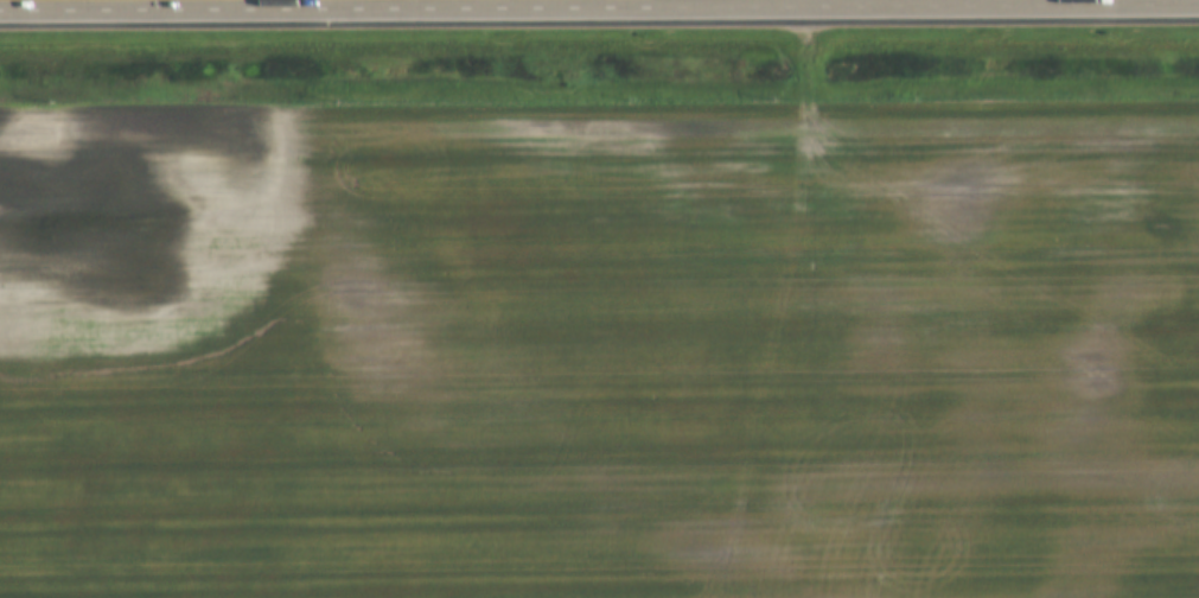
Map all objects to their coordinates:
road: (308, 1)

